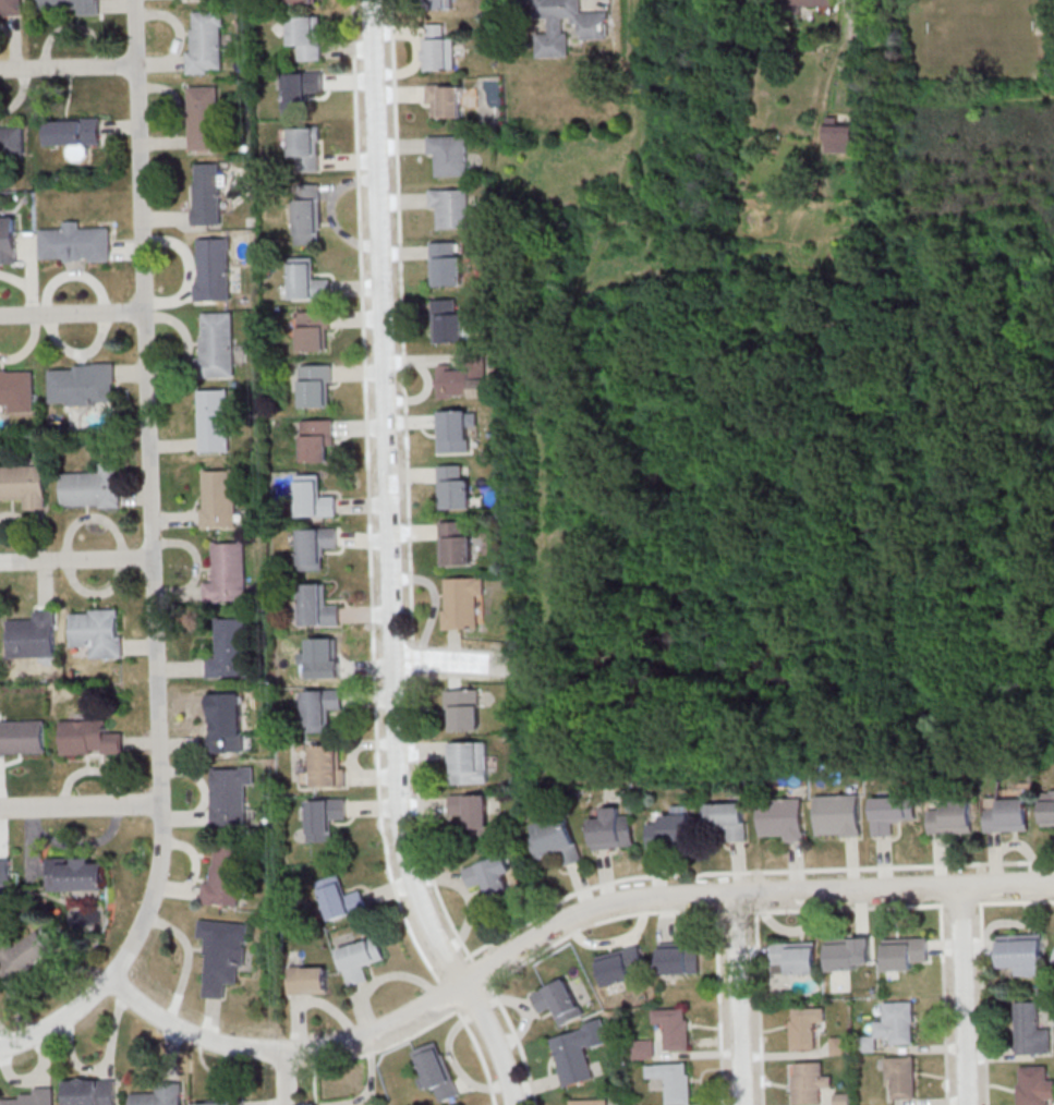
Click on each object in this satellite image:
building: (303, 1)
building: (440, 3)
building: (813, 3)
building: (73, 4)
road: (119, 4)
building: (10, 7)
road: (175, 24)
building: (568, 25)
park: (980, 25)
road: (71, 26)
building: (306, 36)
building: (205, 40)
road: (14, 44)
road: (353, 44)
building: (440, 48)
road: (634, 57)
road: (159, 63)
road: (68, 69)
building: (300, 90)
road: (20, 96)
building: (445, 100)
road: (175, 101)
building: (203, 117)
building: (73, 130)
building: (839, 135)
building: (12, 139)
road: (162, 143)
building: (306, 148)
building: (207, 195)
building: (452, 207)
building: (307, 214)
road: (166, 219)
building: (9, 240)
building: (75, 242)
building: (448, 263)
road: (187, 270)
building: (214, 270)
road: (72, 274)
road: (632, 277)
road: (28, 278)
building: (307, 280)
road: (14, 281)
road: (186, 294)
road: (72, 315)
building: (448, 320)
road: (743, 326)
road: (182, 329)
building: (314, 330)
road: (26, 345)
building: (216, 345)
road: (402, 345)
road: (77, 353)
road: (421, 360)
road: (169, 369)
road: (131, 372)
building: (464, 378)
building: (82, 382)
building: (316, 385)
building: (16, 389)
road: (533, 405)
building: (214, 420)
building: (456, 430)
building: (318, 439)
road: (172, 446)
building: (24, 484)
building: (92, 486)
building: (455, 488)
road: (150, 494)
road: (368, 495)
road: (137, 496)
building: (314, 497)
building: (219, 499)
road: (364, 505)
road: (90, 517)
road: (20, 518)
road: (174, 519)
road: (413, 532)
road: (38, 536)
building: (457, 543)
building: (316, 546)
road: (409, 548)
road: (76, 560)
road: (390, 564)
building: (228, 573)
road: (372, 602)
building: (462, 602)
road: (435, 603)
building: (318, 606)
road: (367, 612)
building: (98, 631)
building: (34, 635)
building: (230, 649)
building: (326, 657)
road: (451, 663)
building: (322, 707)
building: (463, 708)
building: (227, 722)
building: (22, 738)
building: (89, 738)
road: (421, 749)
building: (469, 762)
building: (328, 765)
road: (417, 776)
building: (231, 794)
road: (424, 803)
building: (1047, 806)
road: (81, 807)
building: (473, 812)
building: (891, 813)
building: (1007, 813)
building: (838, 815)
building: (325, 817)
building: (784, 817)
building: (953, 817)
building: (728, 818)
building: (673, 827)
building: (613, 829)
building: (557, 839)
road: (1028, 849)
road: (996, 859)
road: (938, 861)
road: (992, 862)
building: (5, 869)
building: (78, 874)
building: (226, 876)
building: (492, 876)
building: (342, 898)
road: (558, 925)
road: (946, 946)
building: (849, 952)
building: (906, 952)
building: (1023, 952)
building: (28, 954)
building: (223, 955)
building: (680, 958)
building: (796, 958)
building: (361, 959)
building: (622, 966)
building: (308, 980)
road: (964, 996)
road: (740, 999)
building: (559, 1001)
road: (525, 1006)
road: (720, 1007)
road: (760, 1010)
road: (61, 1021)
building: (896, 1024)
road: (944, 1025)
building: (676, 1027)
building: (807, 1027)
building: (1031, 1030)
building: (840, 1045)
building: (644, 1048)
building: (578, 1052)
road: (107, 1064)
road: (528, 1069)
building: (436, 1071)
building: (901, 1077)
road: (287, 1079)
road: (986, 1079)
building: (675, 1080)
road: (315, 1081)
building: (810, 1082)
building: (1034, 1084)
road: (536, 1086)
building: (92, 1091)
building: (161, 1095)
building: (35, 1097)
building: (590, 1102)
building: (222, 1103)

